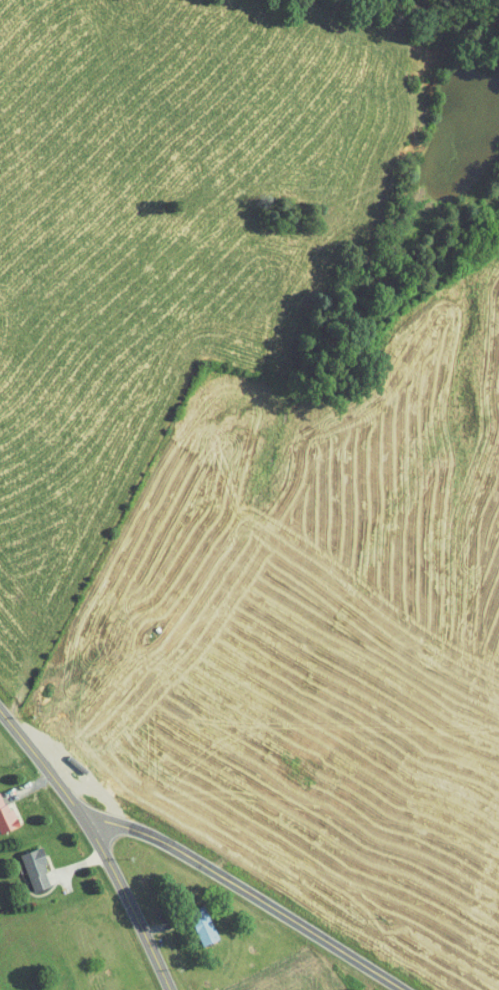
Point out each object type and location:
road: (28, 786)
building: (7, 817)
road: (98, 842)
road: (81, 863)
building: (38, 868)
road: (249, 892)
road: (164, 925)
building: (205, 925)
building: (228, 965)

